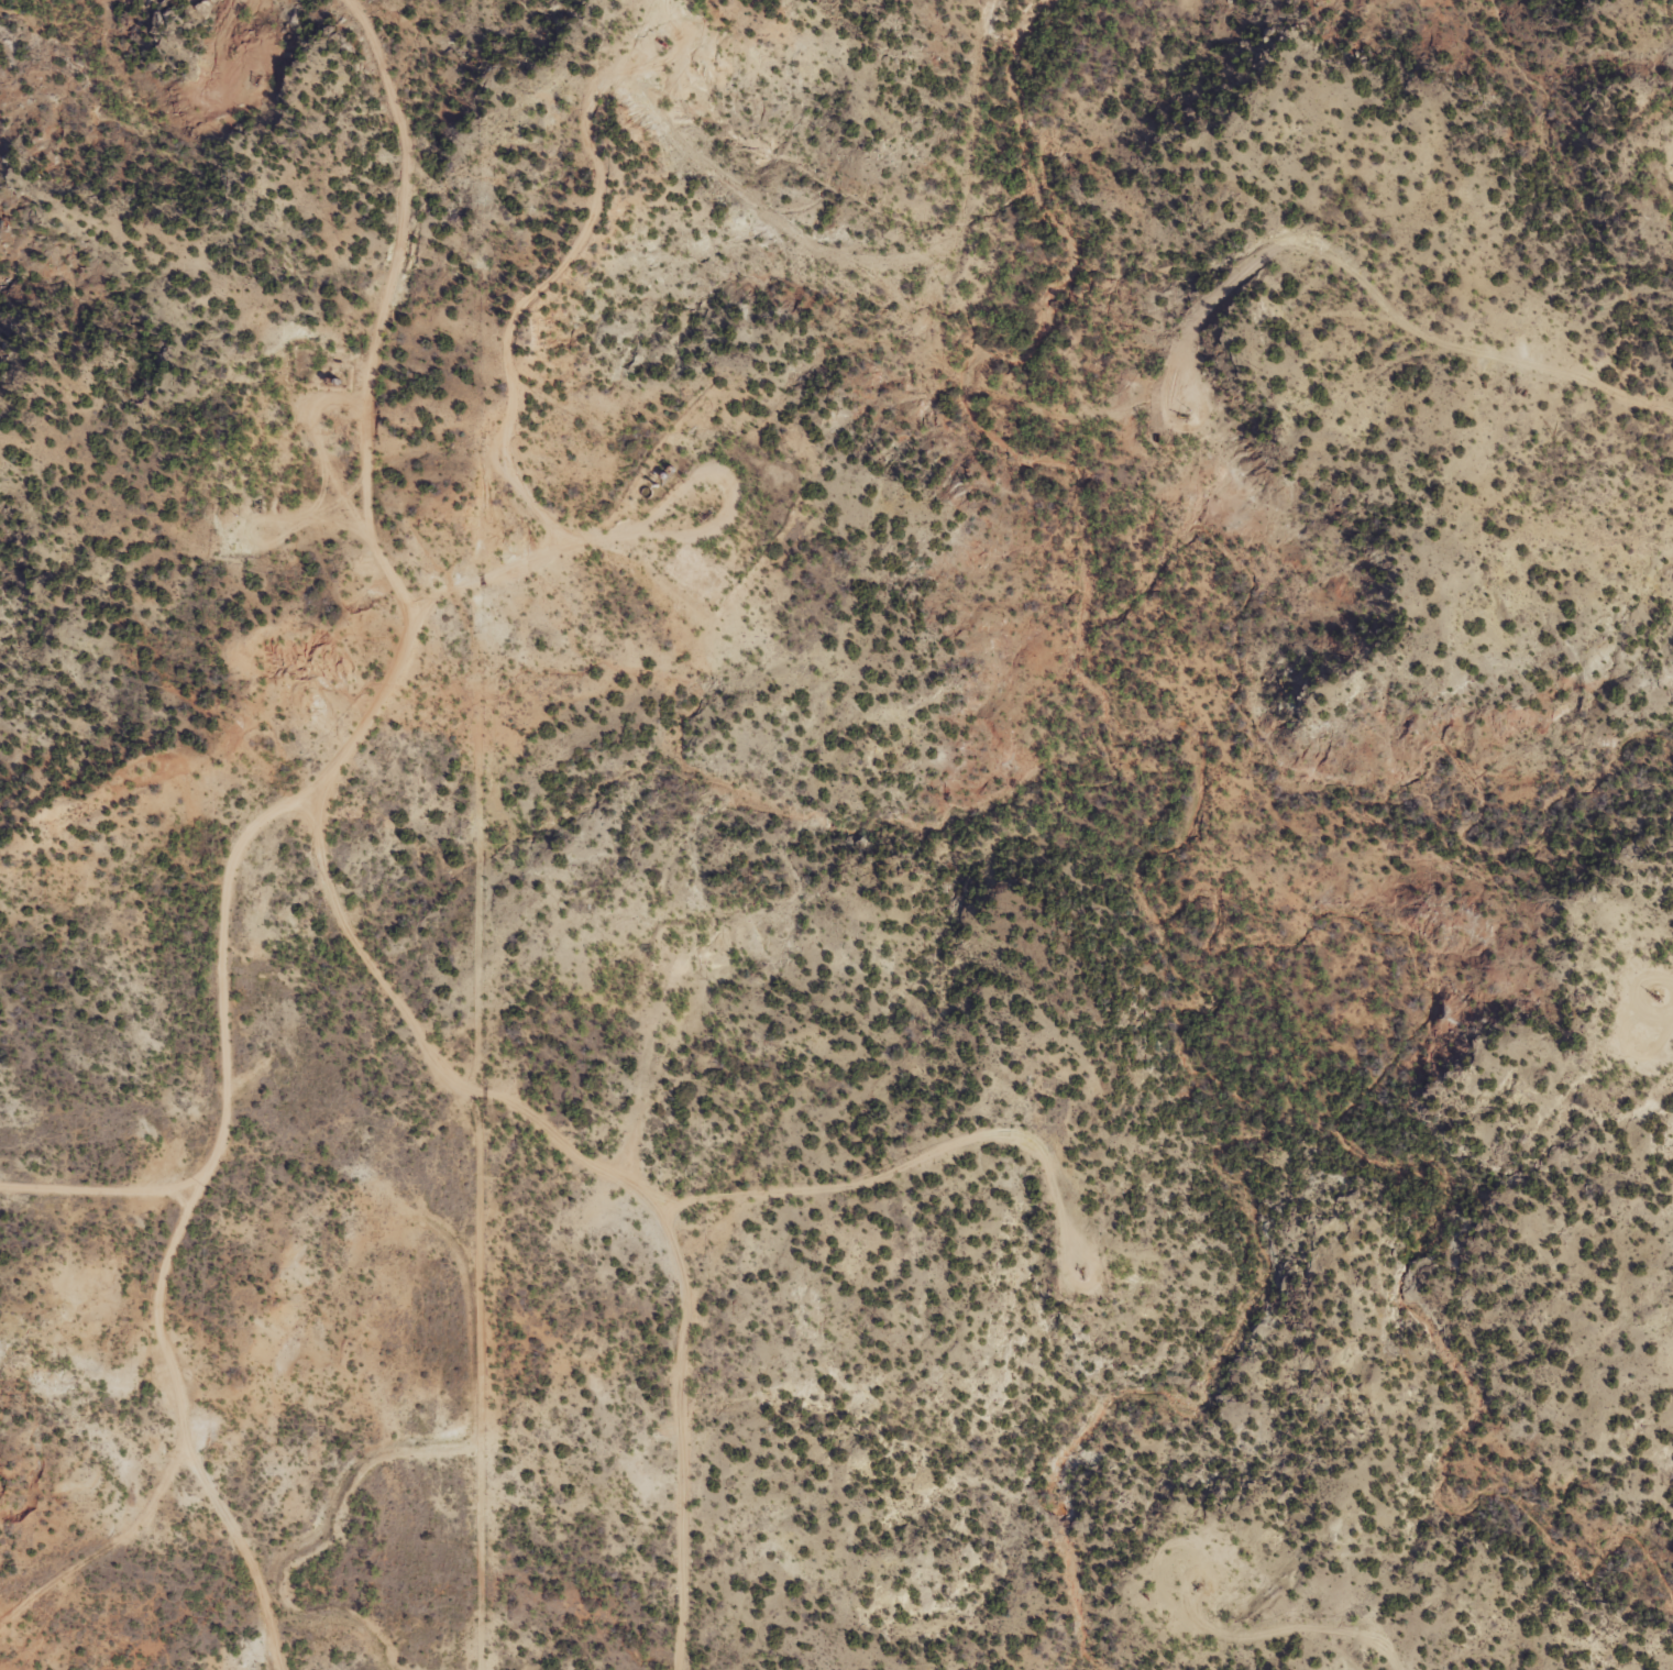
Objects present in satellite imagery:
road: (970, 179)
road: (1081, 422)
road: (274, 803)
road: (687, 1264)
road: (77, 1322)

